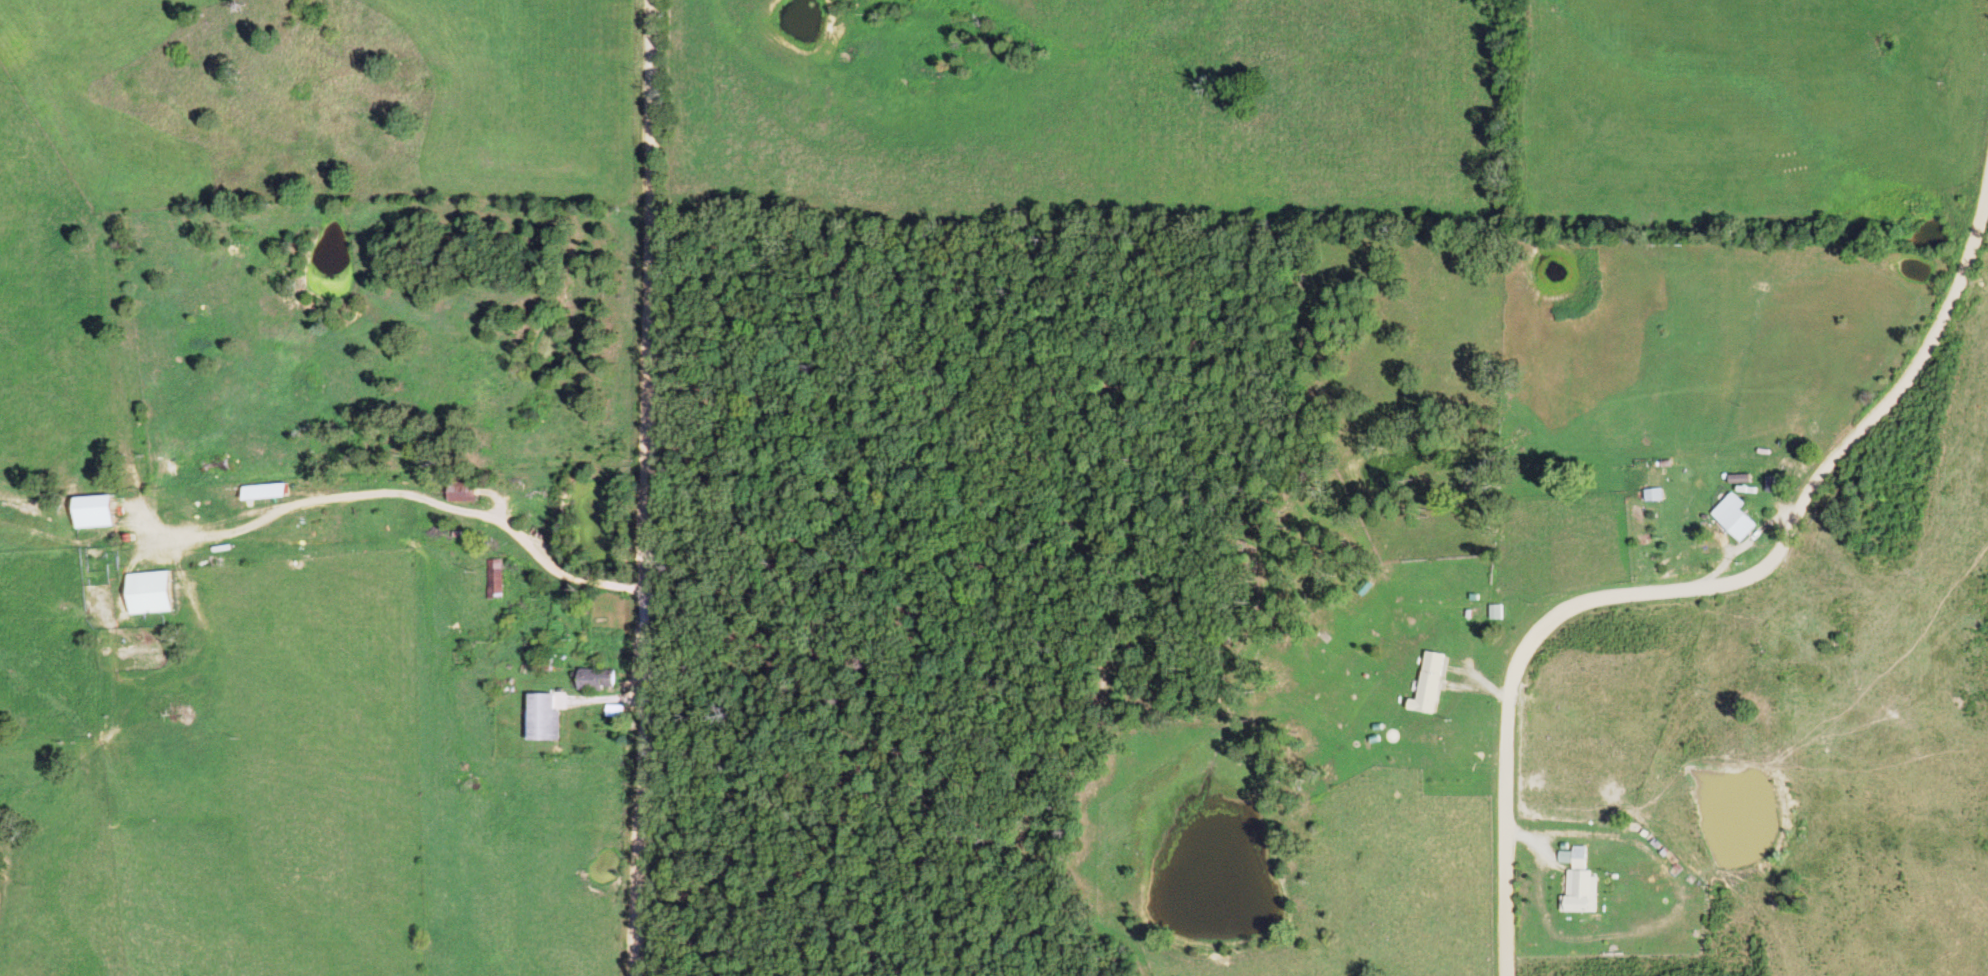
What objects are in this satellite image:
road: (646, 487)
building: (268, 491)
building: (466, 492)
building: (1663, 494)
road: (435, 503)
building: (100, 511)
building: (1745, 516)
road: (1699, 576)
building: (155, 592)
building: (601, 679)
building: (1438, 683)
building: (620, 711)
building: (550, 718)
building: (1585, 882)

